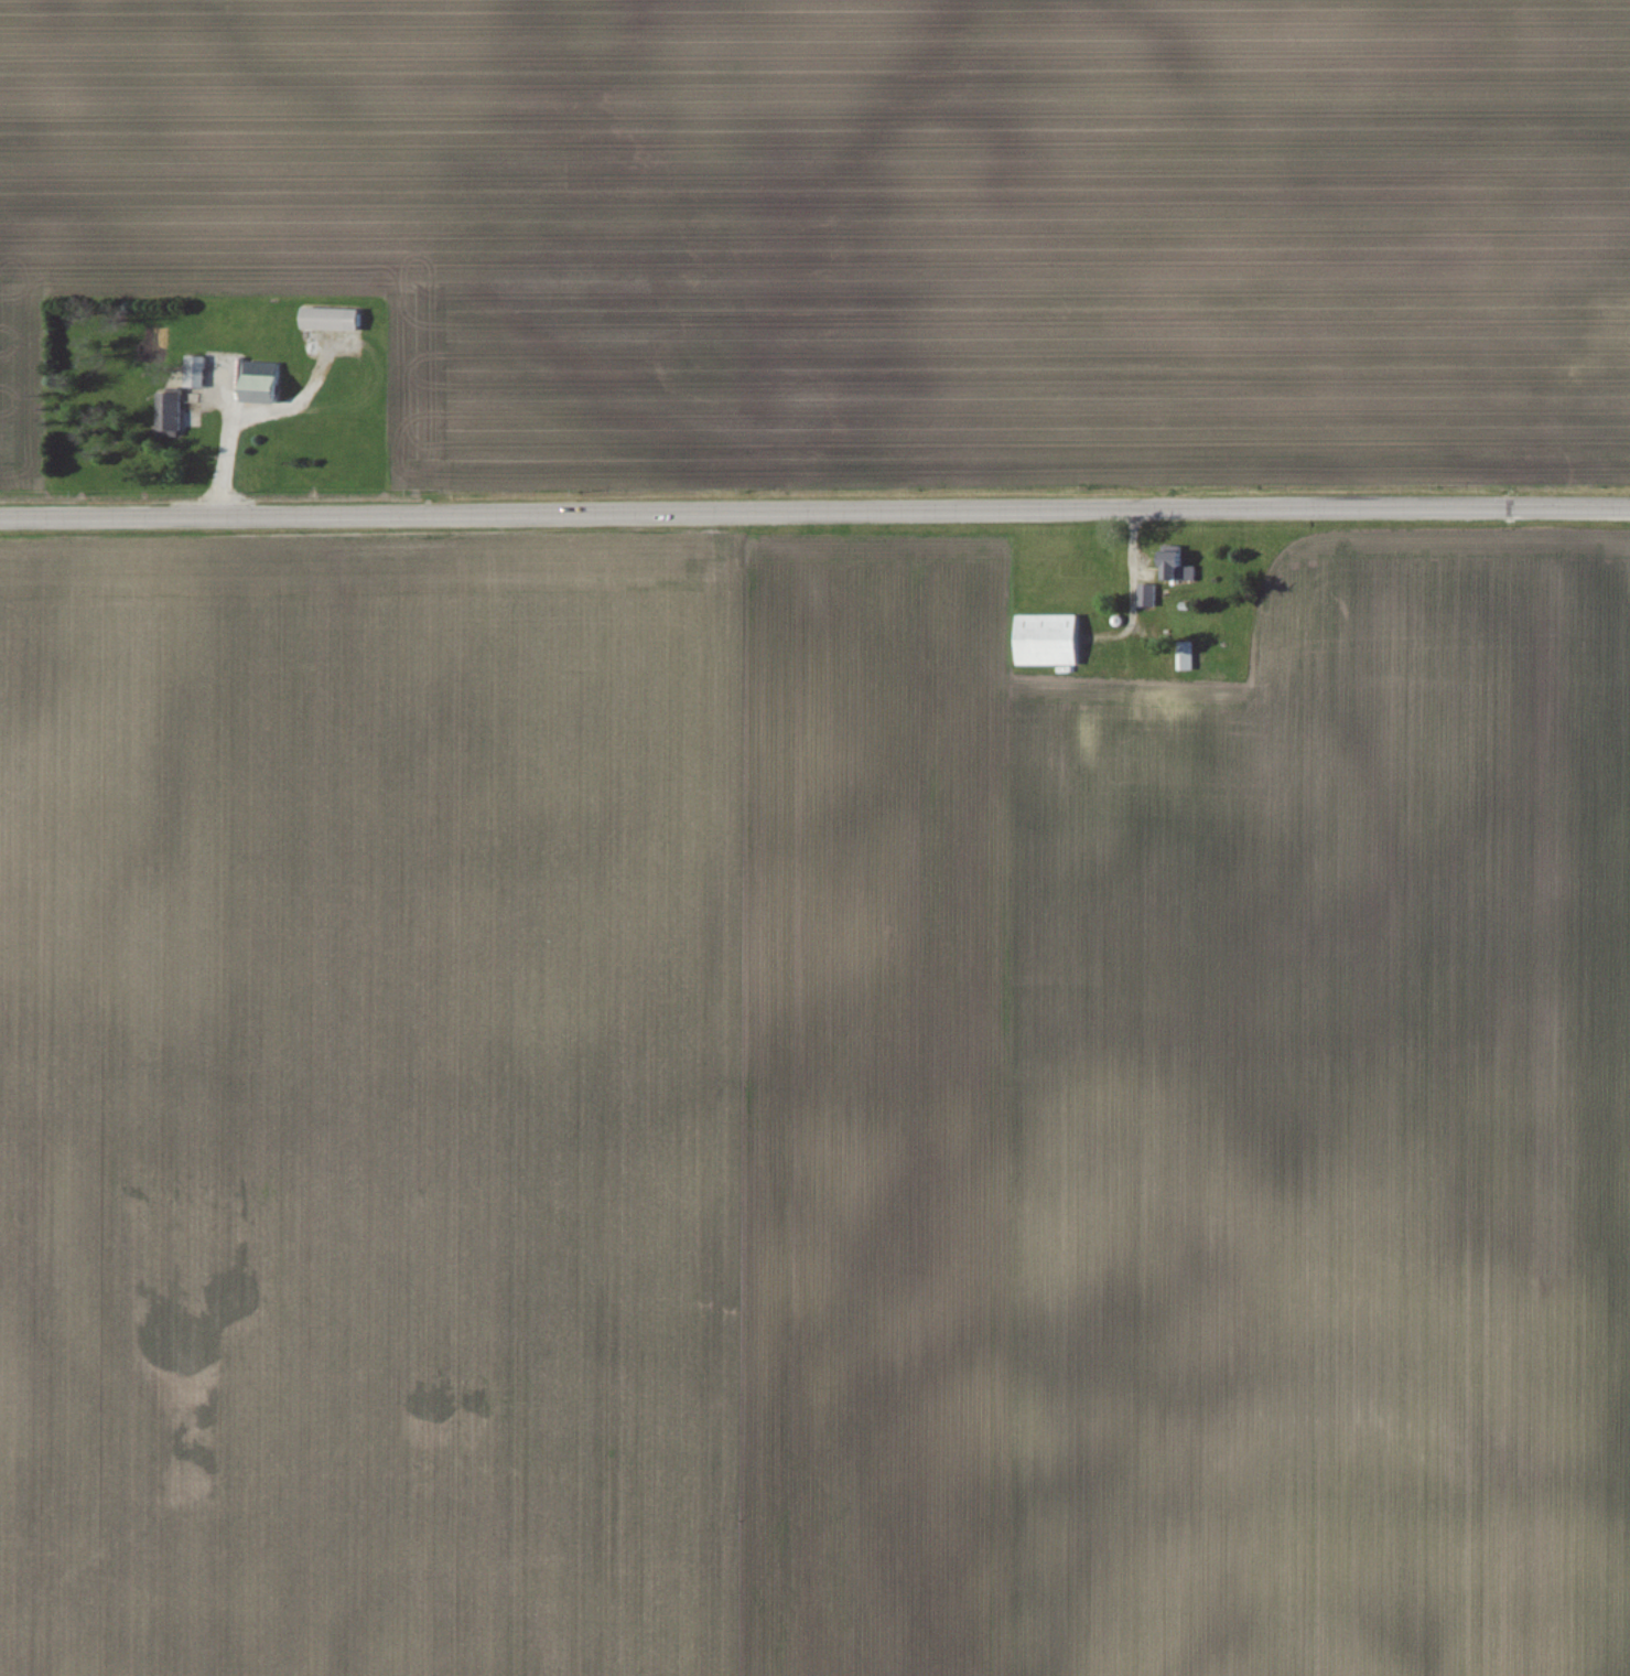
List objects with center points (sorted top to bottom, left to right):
building: (334, 319)
building: (197, 370)
building: (172, 412)
road: (229, 443)
road: (814, 503)
road: (1135, 582)

